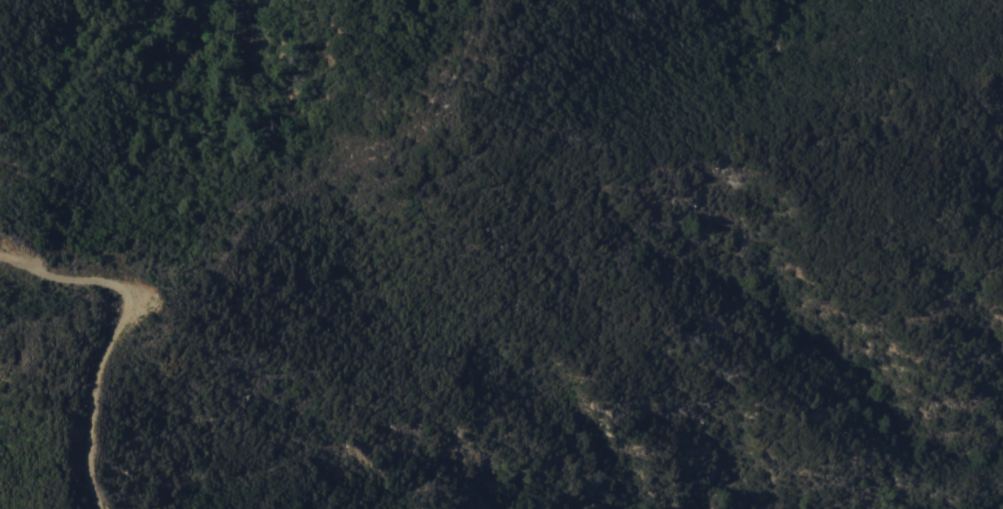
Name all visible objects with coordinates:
road: (115, 336)

